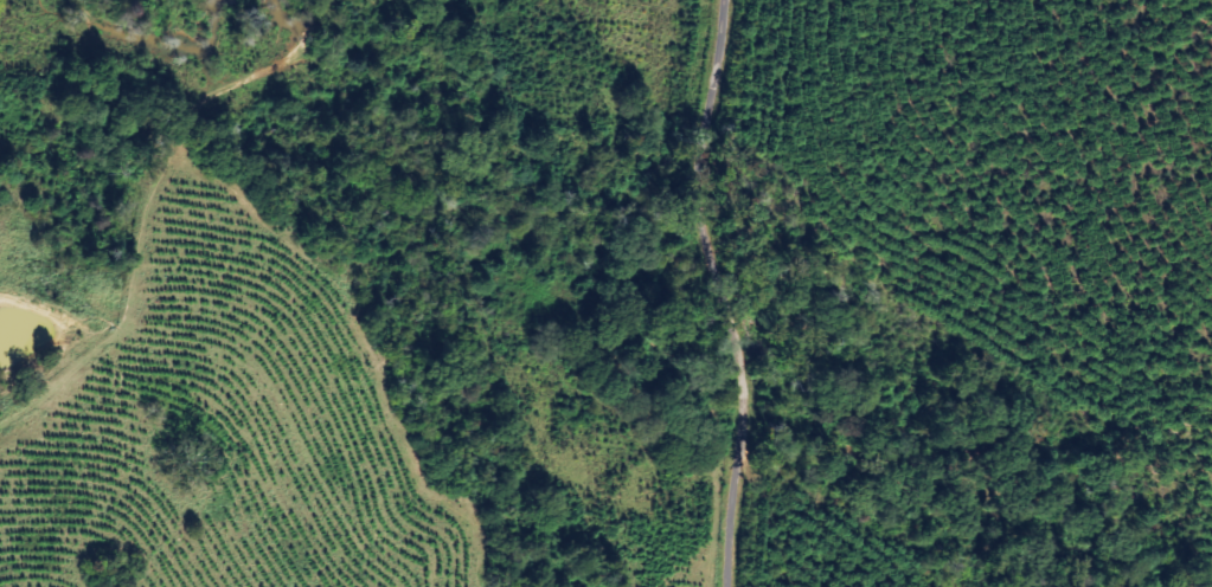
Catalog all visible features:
road: (723, 293)

